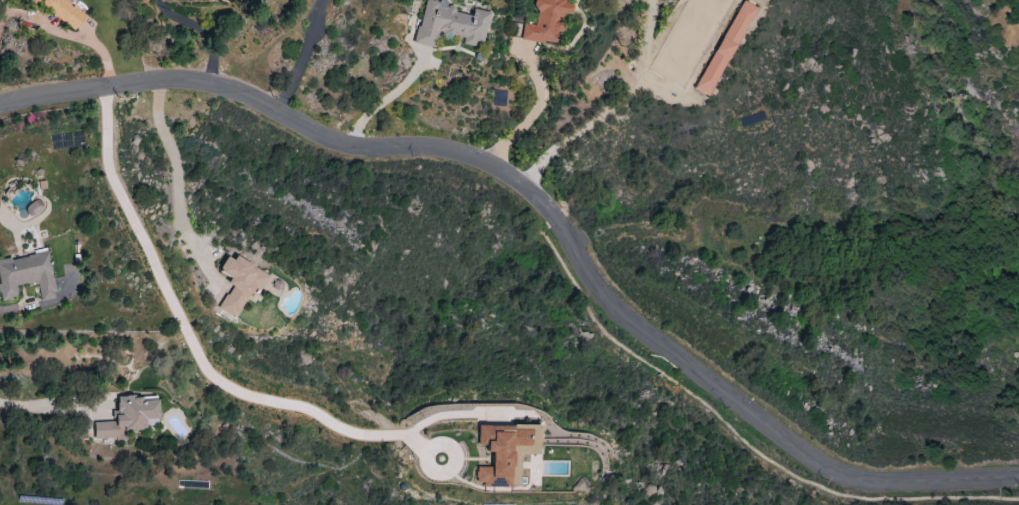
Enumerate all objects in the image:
building: (61, 10)
building: (548, 22)
building: (451, 24)
road: (226, 32)
road: (69, 34)
building: (726, 48)
road: (307, 59)
road: (387, 99)
road: (529, 113)
road: (177, 172)
road: (544, 211)
building: (27, 276)
building: (242, 284)
building: (67, 288)
road: (3, 312)
road: (209, 375)
road: (43, 407)
building: (130, 418)
building: (508, 452)

